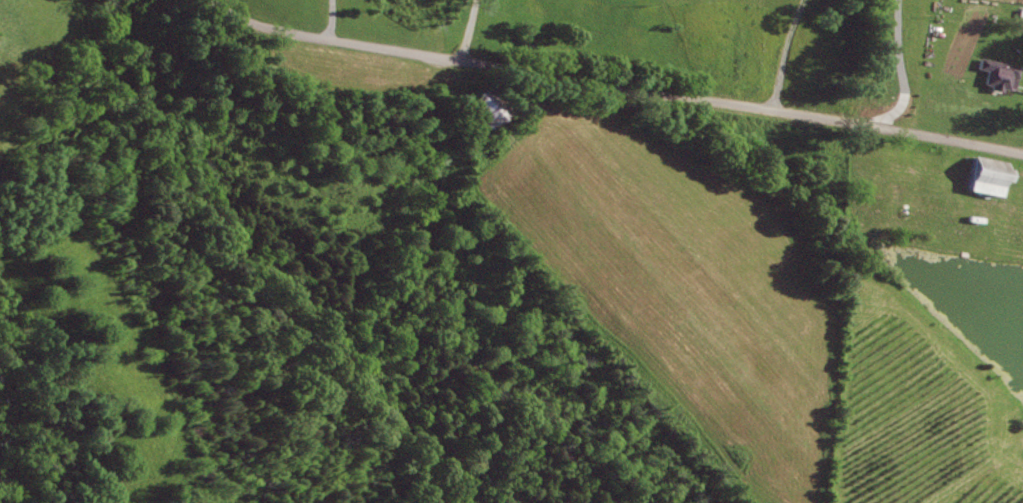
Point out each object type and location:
road: (332, 20)
road: (467, 30)
road: (794, 56)
road: (902, 70)
building: (999, 75)
road: (612, 91)
building: (987, 177)

